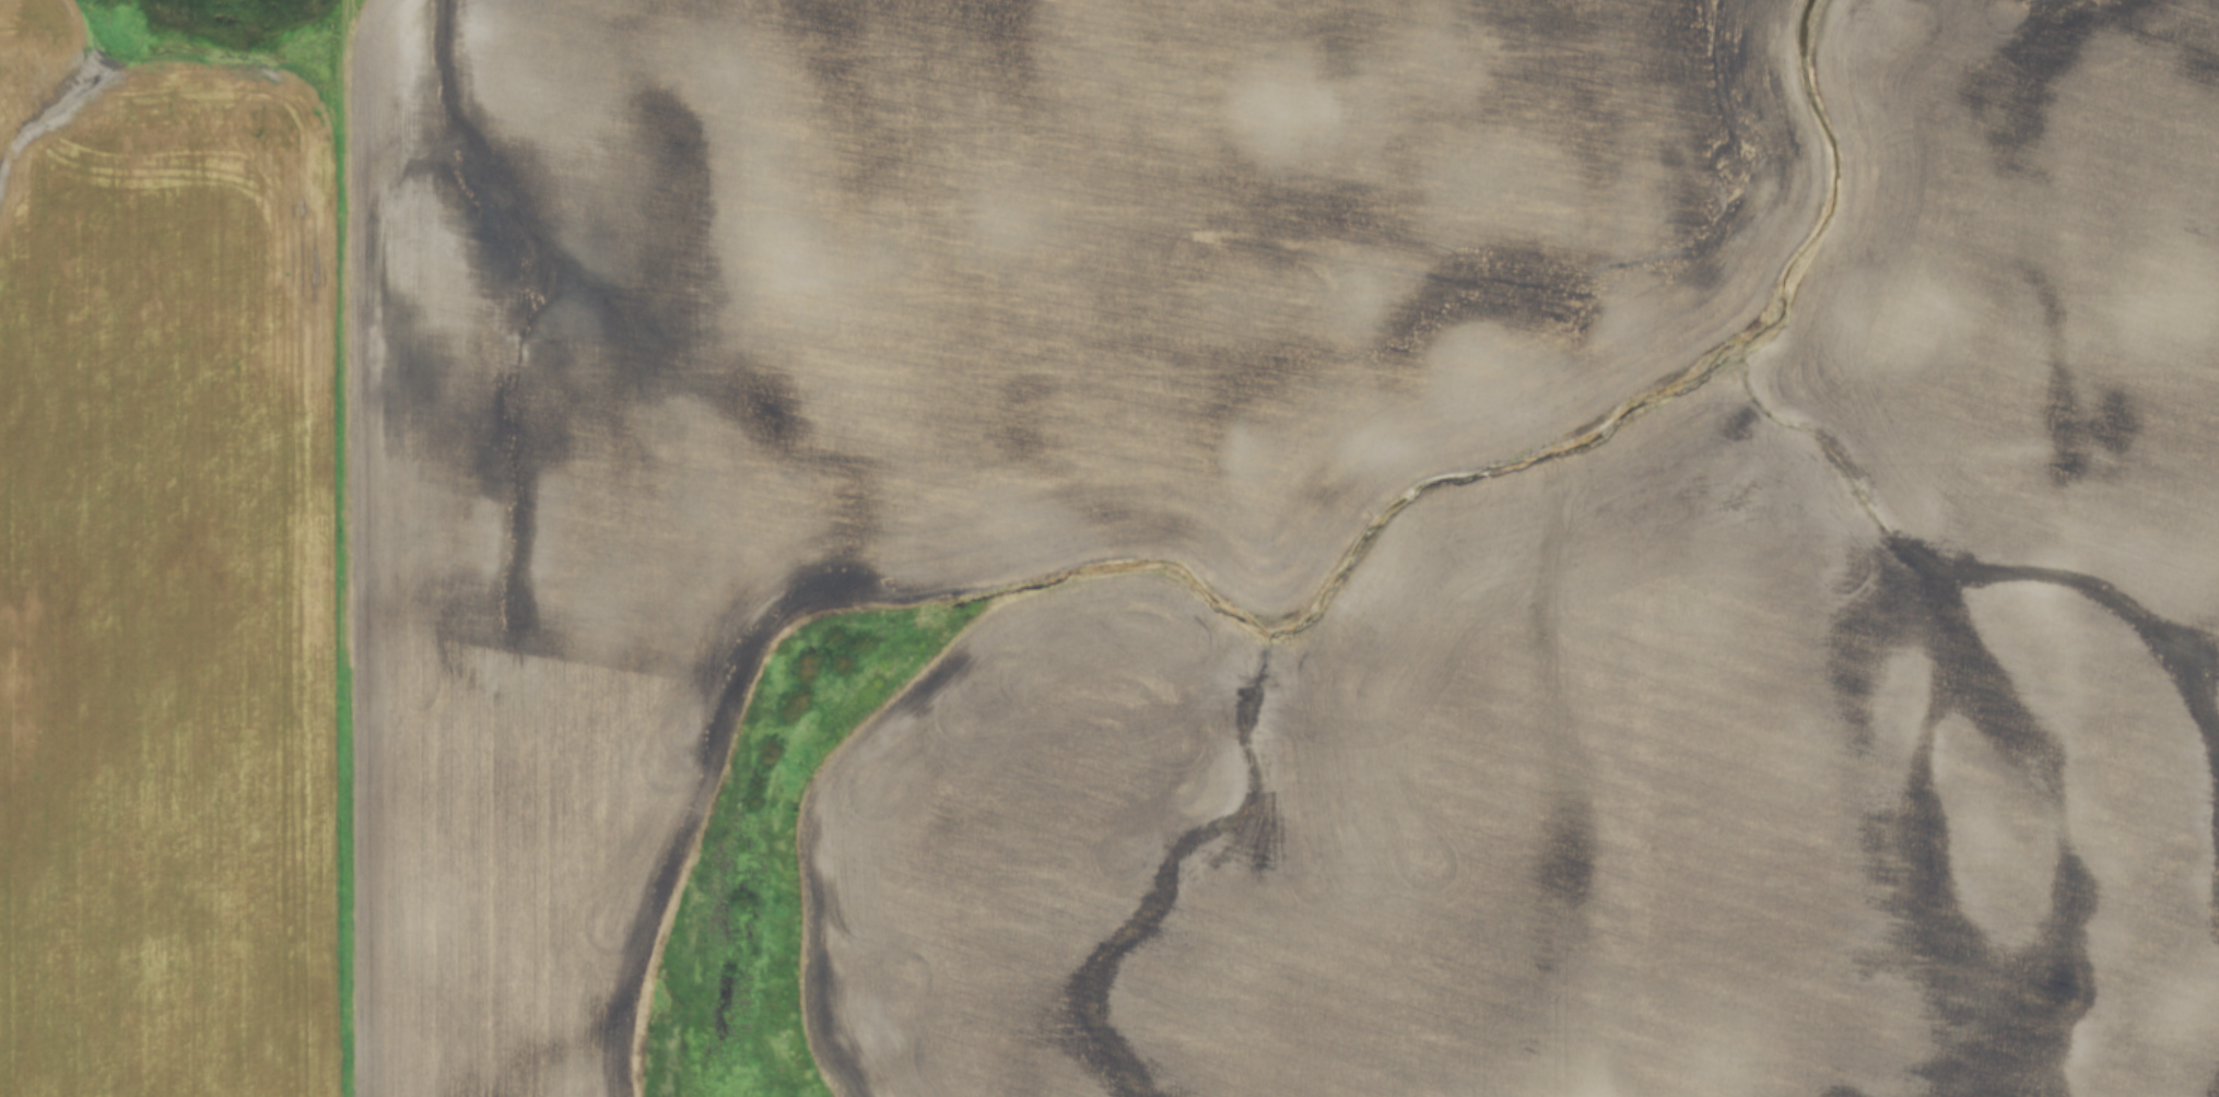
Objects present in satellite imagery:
road: (344, 548)

